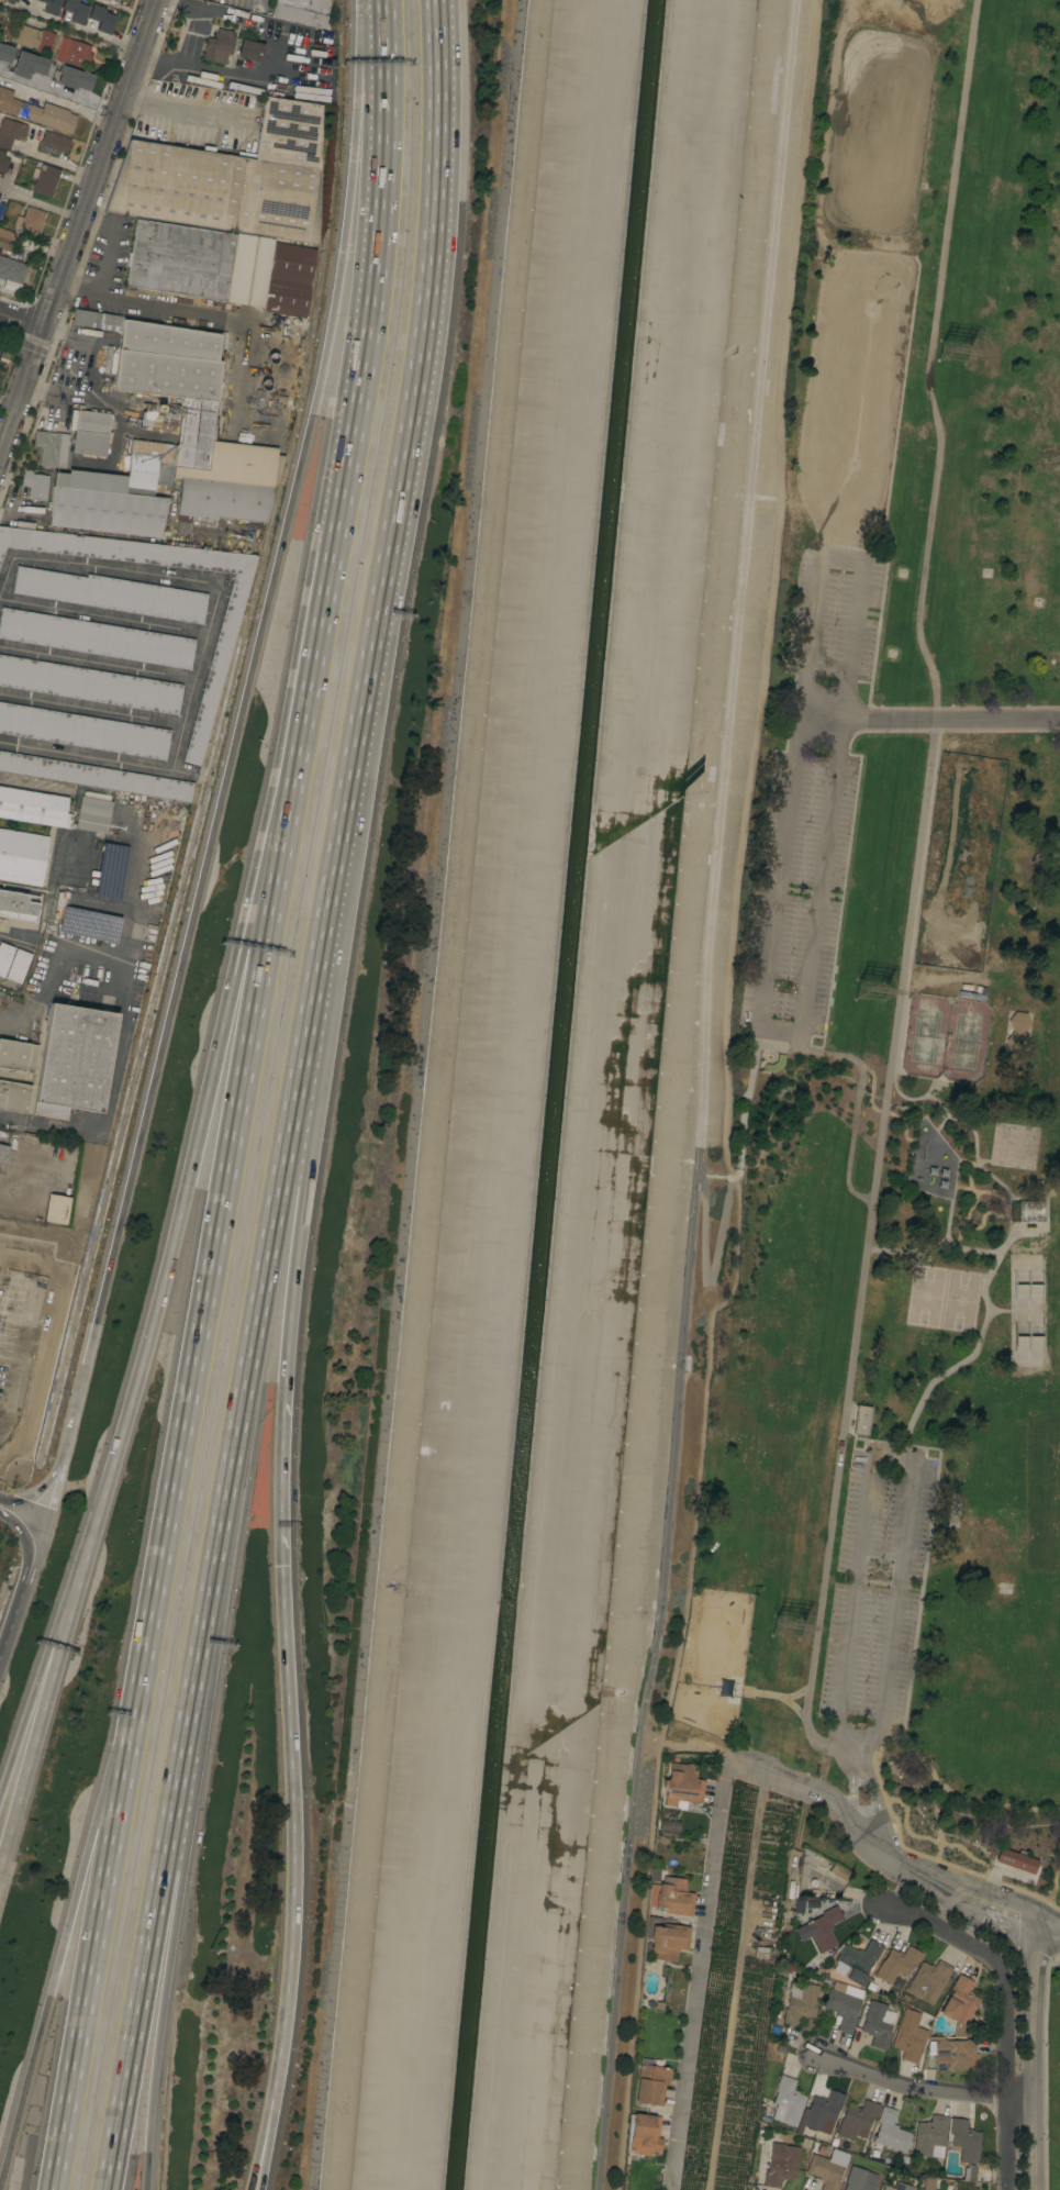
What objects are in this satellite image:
building: (11, 1)
building: (110, 1)
building: (51, 7)
building: (75, 10)
building: (303, 11)
road: (231, 13)
building: (101, 18)
road: (75, 29)
building: (32, 37)
building: (219, 46)
building: (250, 51)
road: (270, 52)
building: (74, 53)
building: (4, 57)
building: (31, 66)
road: (228, 70)
building: (75, 79)
building: (10, 102)
road: (59, 103)
road: (191, 110)
building: (51, 116)
road: (361, 131)
building: (10, 132)
building: (54, 143)
building: (3, 160)
road: (55, 160)
building: (231, 178)
building: (45, 179)
road: (40, 207)
building: (30, 221)
road: (81, 229)
building: (5, 244)
building: (221, 266)
building: (11, 269)
road: (200, 316)
road: (23, 318)
building: (1, 349)
power tower: (970, 353)
building: (281, 376)
building: (280, 388)
building: (279, 399)
road: (354, 402)
road: (9, 407)
building: (155, 408)
building: (278, 409)
building: (190, 420)
building: (277, 420)
building: (276, 430)
building: (90, 433)
building: (256, 438)
building: (52, 447)
road: (1, 449)
road: (403, 460)
building: (35, 485)
building: (228, 485)
parking lot: (802, 543)
road: (7, 579)
road: (212, 583)
building: (112, 593)
parking lot: (836, 611)
road: (103, 618)
building: (96, 637)
road: (98, 664)
building: (217, 667)
building: (90, 685)
road: (91, 710)
road: (929, 722)
building: (83, 731)
road: (86, 756)
building: (94, 776)
building: (34, 807)
building: (94, 814)
road: (216, 815)
building: (22, 856)
building: (111, 871)
road: (267, 880)
road: (911, 888)
parking lot: (799, 890)
building: (19, 904)
building: (89, 925)
building: (4, 956)
building: (18, 965)
road: (51, 970)
park: (904, 981)
power tower: (878, 993)
building: (1, 994)
building: (1017, 1031)
road: (801, 1032)
park: (924, 1036)
road: (118, 1037)
park: (964, 1041)
building: (18, 1056)
building: (74, 1060)
building: (774, 1064)
road: (859, 1087)
road: (311, 1092)
river: (556, 1094)
building: (14, 1096)
road: (701, 1096)
road: (724, 1101)
building: (3, 1154)
road: (725, 1205)
building: (57, 1209)
building: (1030, 1211)
road: (947, 1223)
road: (1011, 1237)
road: (213, 1246)
road: (167, 1277)
building: (19, 1282)
park: (925, 1296)
road: (985, 1300)
park: (959, 1301)
road: (997, 1310)
park: (1025, 1311)
road: (26, 1336)
building: (7, 1404)
road: (71, 1416)
road: (280, 1416)
building: (861, 1421)
road: (893, 1465)
road: (47, 1490)
road: (18, 1511)
road: (215, 1554)
road: (22, 1587)
parking lot: (873, 1588)
power tower: (792, 1625)
road: (33, 1688)
road: (797, 1693)
road: (777, 1696)
road: (37, 1726)
road: (696, 1745)
road: (114, 1761)
road: (852, 1779)
building: (682, 1785)
road: (873, 1790)
road: (292, 1821)
building: (669, 1826)
road: (888, 1854)
building: (1016, 1860)
building: (840, 1872)
building: (672, 1897)
road: (177, 1911)
road: (981, 1917)
building: (822, 1928)
road: (949, 1931)
building: (666, 1939)
road: (94, 1941)
building: (856, 1961)
building: (897, 1964)
road: (698, 1976)
building: (928, 1981)
building: (896, 1982)
building: (871, 1986)
building: (905, 1998)
building: (960, 2001)
building: (801, 2003)
road: (45, 2005)
building: (845, 2006)
building: (878, 2024)
building: (908, 2036)
building: (950, 2053)
road: (1034, 2056)
road: (1007, 2080)
building: (651, 2082)
road: (925, 2086)
building: (788, 2102)
building: (821, 2113)
building: (857, 2120)
road: (261, 2133)
road: (266, 2133)
building: (891, 2133)
building: (645, 2134)
building: (930, 2136)
building: (964, 2139)
building: (782, 2167)
building: (827, 2168)
building: (970, 2172)
building: (859, 2179)
building: (928, 2183)
building: (900, 2187)

